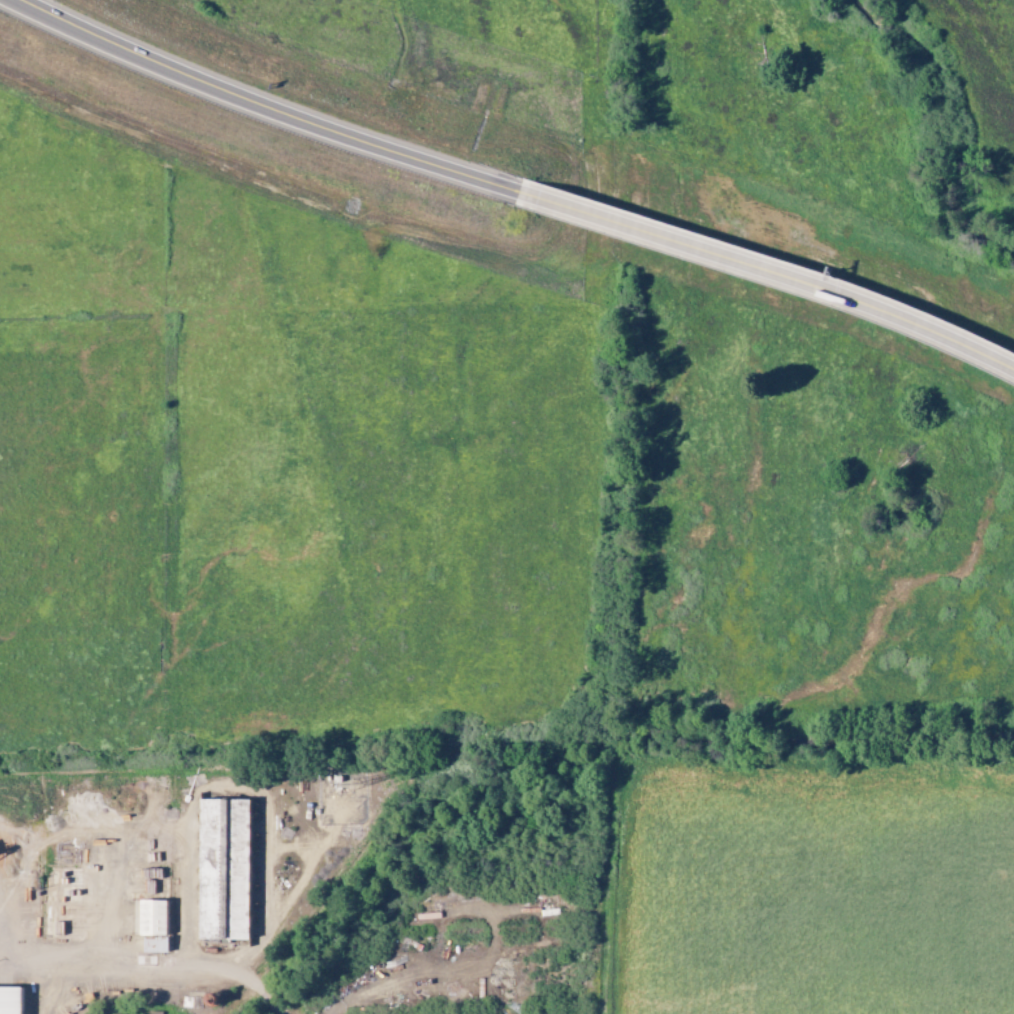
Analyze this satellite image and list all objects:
road: (263, 106)
road: (768, 272)
building: (225, 868)
building: (152, 924)
road: (167, 962)
building: (13, 1001)

